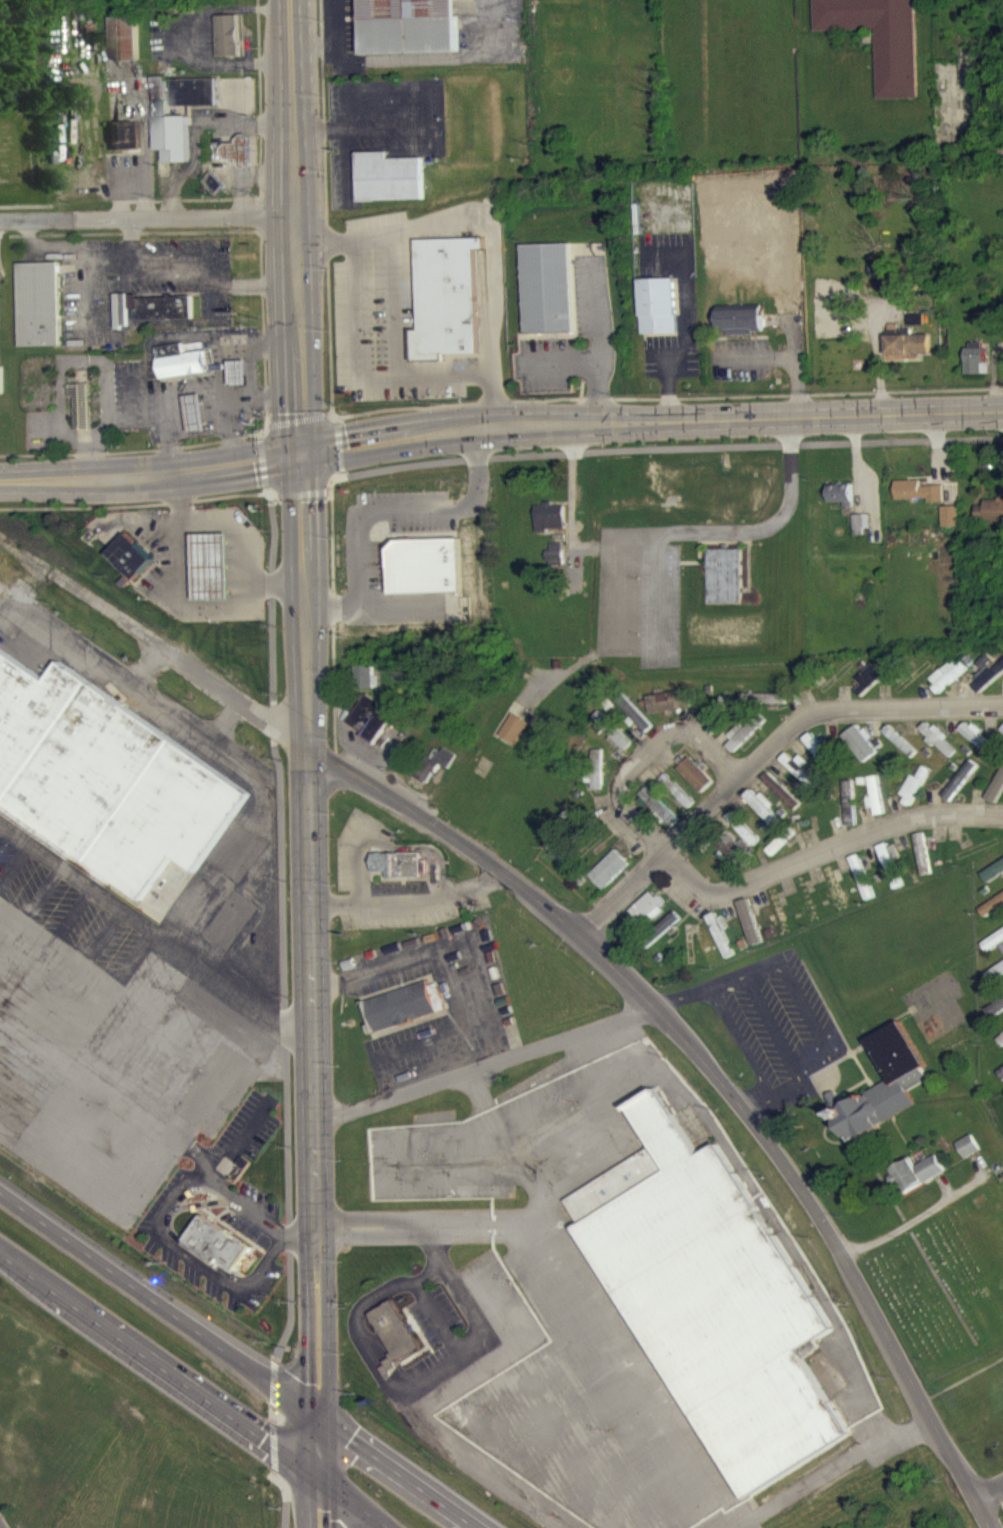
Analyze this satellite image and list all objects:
building: (416, 26)
road: (333, 29)
building: (877, 41)
building: (227, 46)
road: (194, 47)
building: (124, 48)
road: (421, 68)
road: (967, 124)
building: (169, 138)
building: (389, 176)
building: (213, 194)
parking lot: (376, 219)
road: (149, 220)
road: (490, 228)
parking lot: (409, 279)
building: (549, 285)
building: (447, 296)
road: (483, 299)
parking lot: (373, 309)
building: (39, 314)
building: (658, 316)
parking lot: (340, 323)
building: (741, 329)
building: (914, 329)
road: (599, 347)
building: (905, 353)
building: (188, 359)
parking lot: (464, 360)
building: (975, 369)
building: (180, 372)
road: (301, 372)
gas station: (245, 373)
road: (444, 376)
road: (380, 377)
building: (238, 383)
parking lot: (408, 390)
building: (88, 405)
road: (328, 412)
gas station: (202, 413)
road: (297, 419)
road: (338, 419)
road: (267, 424)
road: (499, 426)
road: (258, 435)
road: (338, 448)
road: (658, 449)
traffic signals: (301, 453)
road: (264, 488)
road: (302, 492)
road: (274, 495)
building: (917, 501)
building: (840, 504)
building: (990, 520)
building: (949, 526)
building: (548, 527)
road: (751, 529)
road: (237, 533)
building: (860, 533)
building: (130, 553)
building: (211, 564)
gas station: (211, 564)
building: (554, 564)
building: (431, 566)
building: (724, 586)
road: (333, 627)
building: (985, 671)
building: (948, 685)
building: (364, 686)
building: (873, 686)
building: (989, 688)
road: (235, 698)
building: (765, 708)
building: (669, 711)
building: (635, 724)
building: (719, 726)
building: (369, 728)
building: (514, 739)
building: (1002, 740)
building: (612, 741)
building: (977, 747)
building: (938, 748)
road: (640, 750)
building: (901, 751)
building: (861, 754)
road: (766, 757)
building: (819, 759)
building: (433, 773)
building: (800, 779)
building: (596, 781)
building: (109, 783)
building: (696, 785)
building: (960, 790)
building: (915, 797)
building: (678, 801)
building: (782, 801)
building: (876, 806)
building: (850, 813)
building: (659, 816)
building: (764, 818)
parking lot: (385, 830)
building: (743, 838)
parking lot: (346, 847)
road: (826, 847)
road: (432, 849)
road: (359, 859)
building: (397, 862)
building: (923, 864)
building: (736, 865)
building: (891, 876)
building: (609, 879)
parking lot: (386, 884)
parking lot: (414, 884)
building: (863, 887)
road: (433, 898)
road: (335, 903)
road: (129, 914)
parking lot: (383, 920)
building: (645, 921)
road: (283, 928)
building: (667, 935)
building: (722, 946)
building: (993, 951)
road: (444, 969)
road: (484, 978)
building: (995, 982)
building: (405, 1003)
road: (261, 1010)
road: (770, 1012)
building: (994, 1018)
road: (285, 1026)
building: (1000, 1049)
road: (707, 1062)
road: (485, 1065)
road: (224, 1078)
building: (1000, 1083)
building: (886, 1095)
road: (313, 1112)
parking lot: (238, 1118)
road: (246, 1132)
parking lot: (262, 1135)
road: (205, 1156)
building: (968, 1156)
building: (915, 1183)
road: (199, 1187)
parking lot: (260, 1197)
road: (917, 1218)
parking lot: (240, 1222)
parking lot: (143, 1225)
road: (376, 1226)
road: (160, 1227)
parking lot: (110, 1234)
road: (296, 1236)
road: (180, 1238)
building: (218, 1242)
road: (429, 1273)
parking lot: (192, 1274)
road: (460, 1293)
parking lot: (253, 1302)
parking lot: (447, 1306)
road: (439, 1319)
parking lot: (423, 1321)
building: (395, 1332)
road: (388, 1349)
parking lot: (436, 1355)
road: (368, 1357)
road: (238, 1358)
road: (380, 1364)
road: (159, 1365)
road: (274, 1381)
road: (272, 1412)
traffic signals: (320, 1417)
road: (273, 1445)
traffic signals: (318, 1479)
road: (990, 1491)
road: (286, 1495)
road: (318, 1503)
road: (353, 1503)
road: (985, 1513)
road: (1, 1526)

